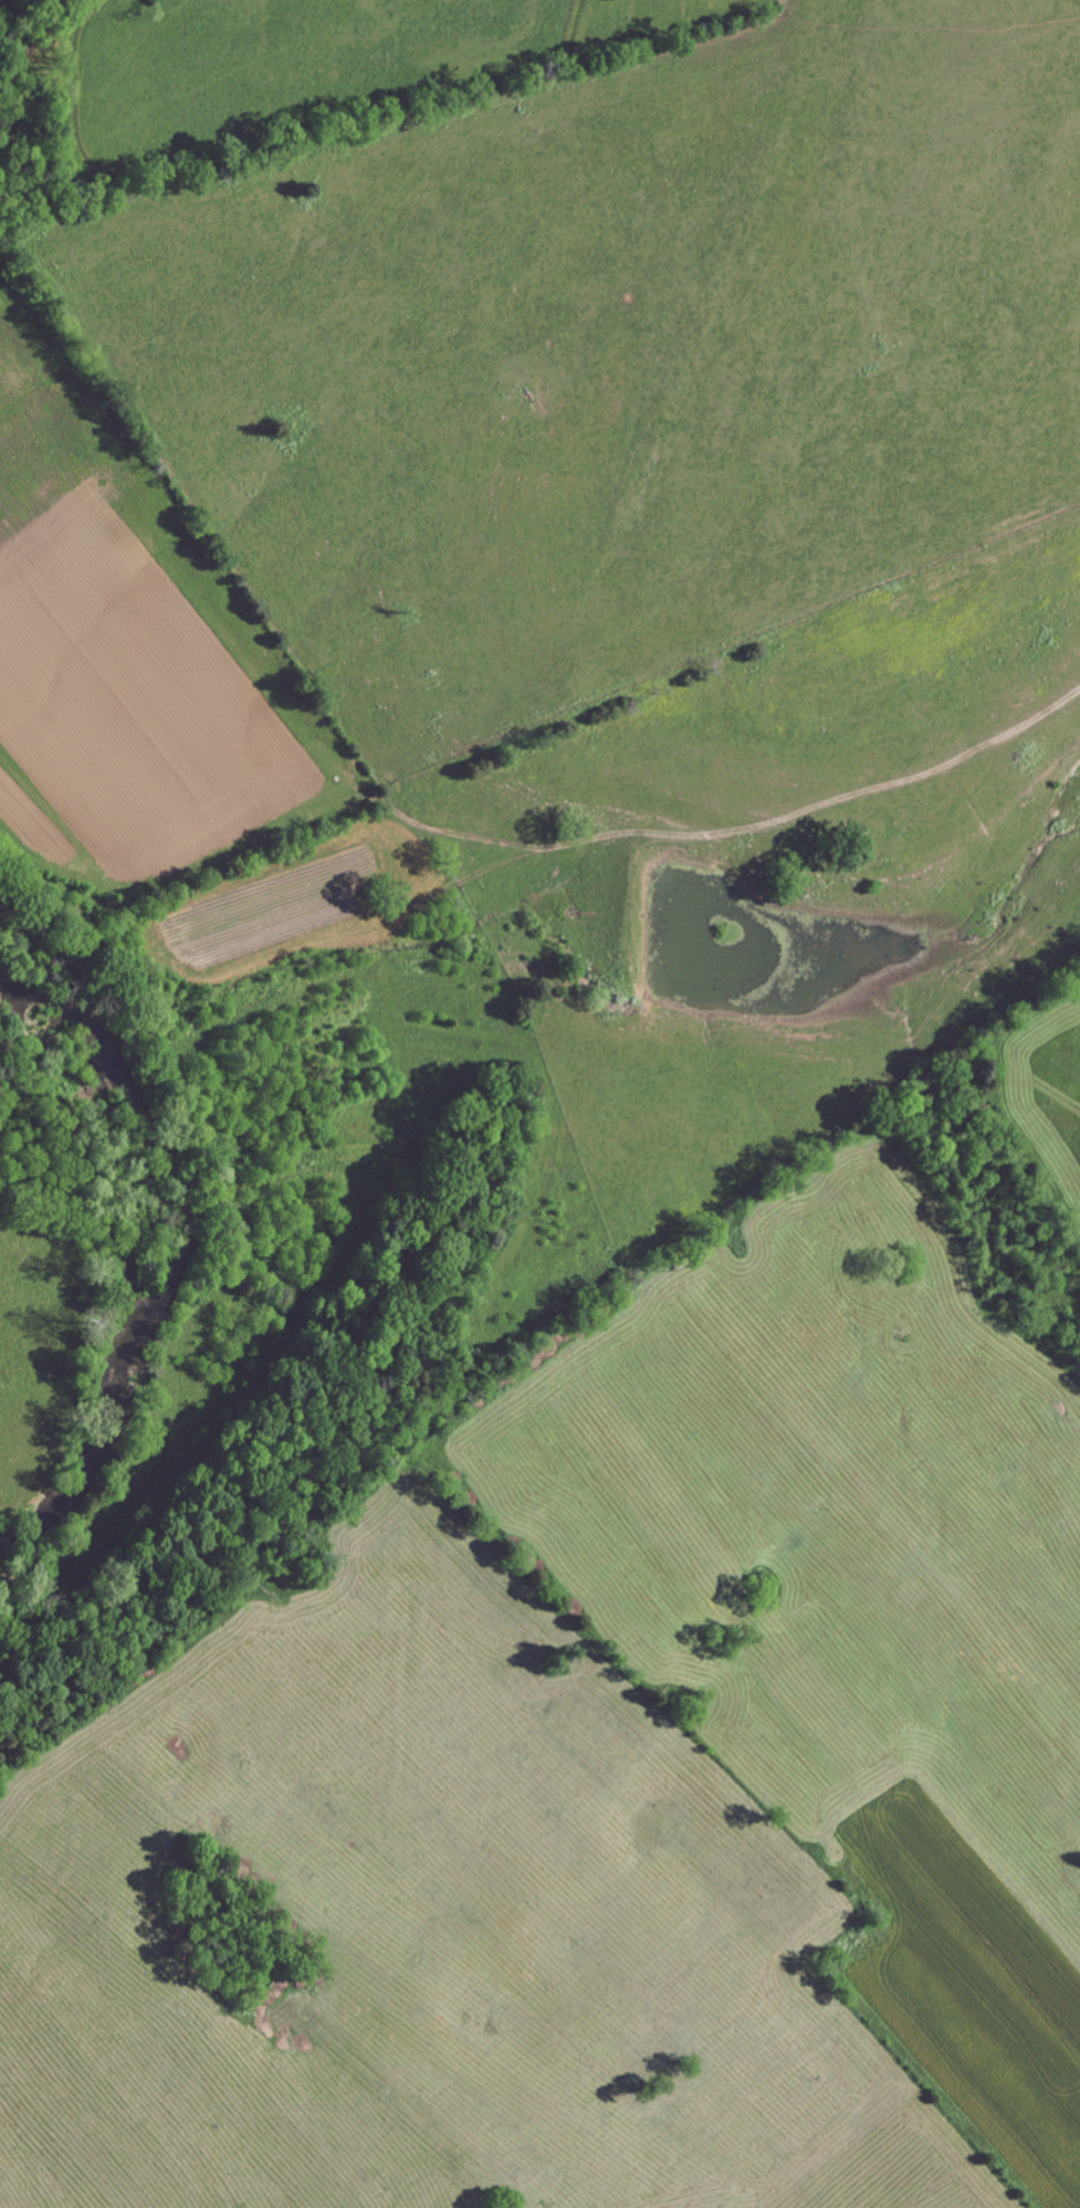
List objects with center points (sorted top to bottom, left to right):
river: (178, 1243)

